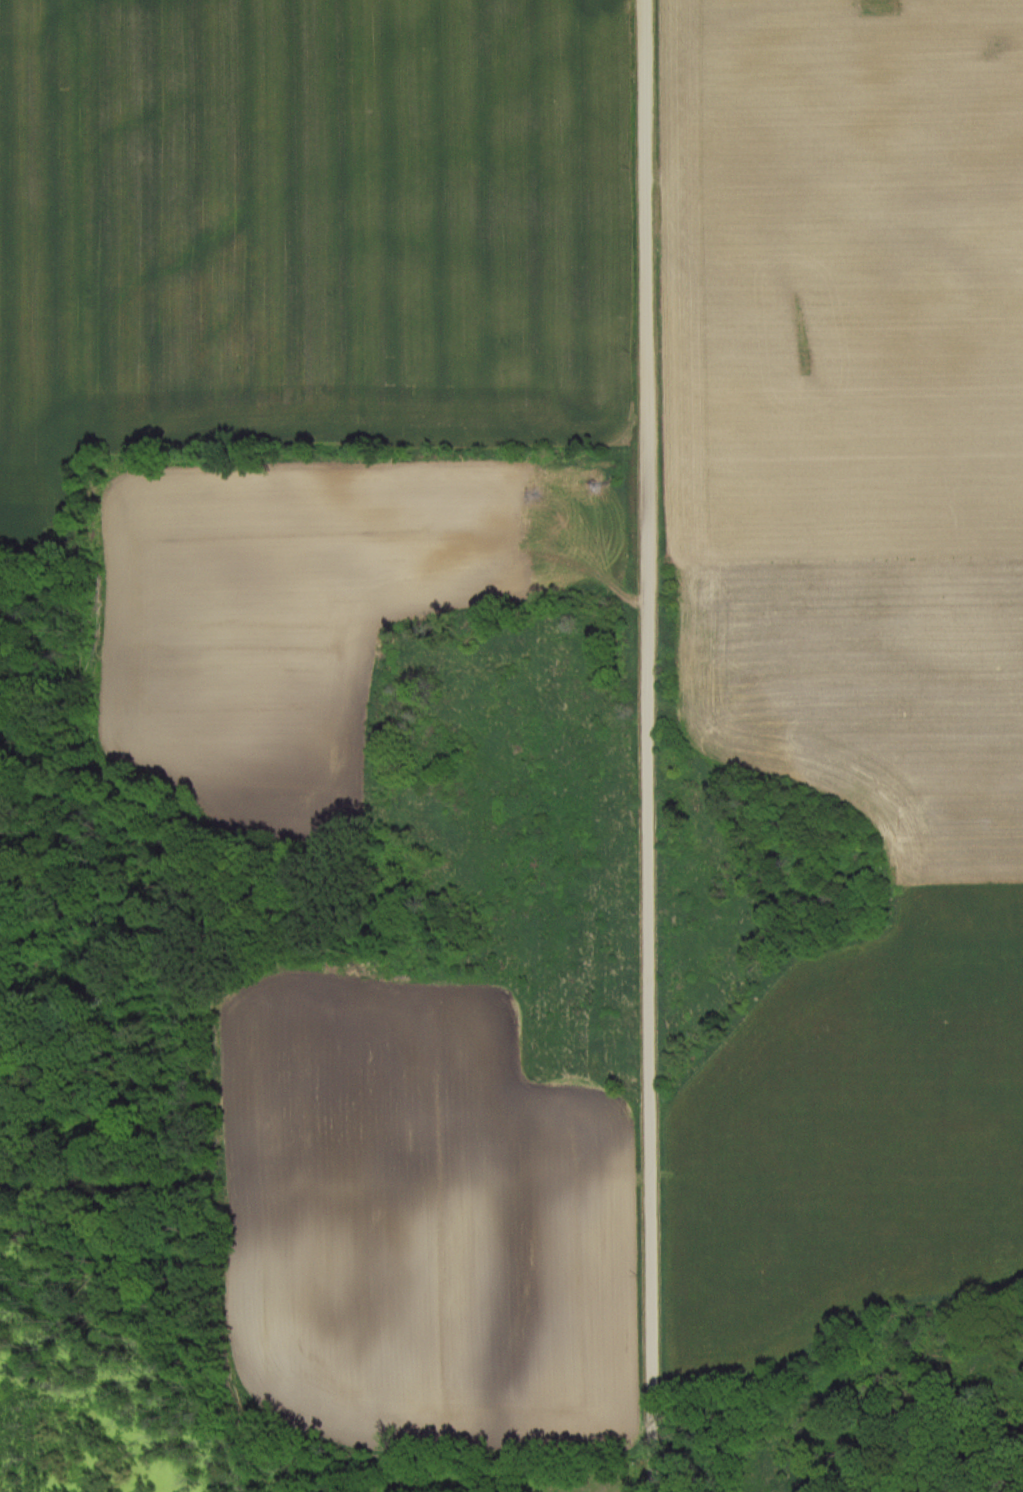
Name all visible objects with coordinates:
road: (648, 745)

